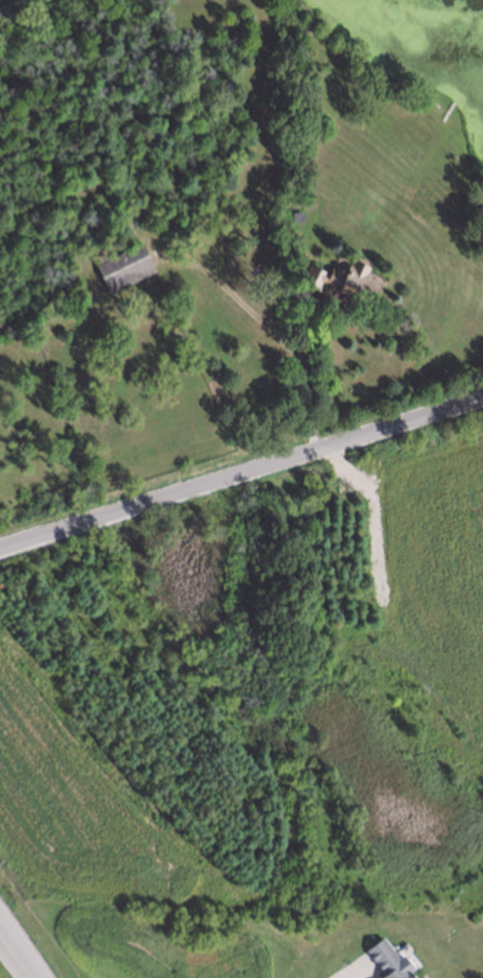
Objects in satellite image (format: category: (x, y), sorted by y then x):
building: (123, 265)
building: (342, 278)
road: (312, 381)
road: (241, 471)
road: (16, 956)
building: (386, 961)
road: (344, 972)

